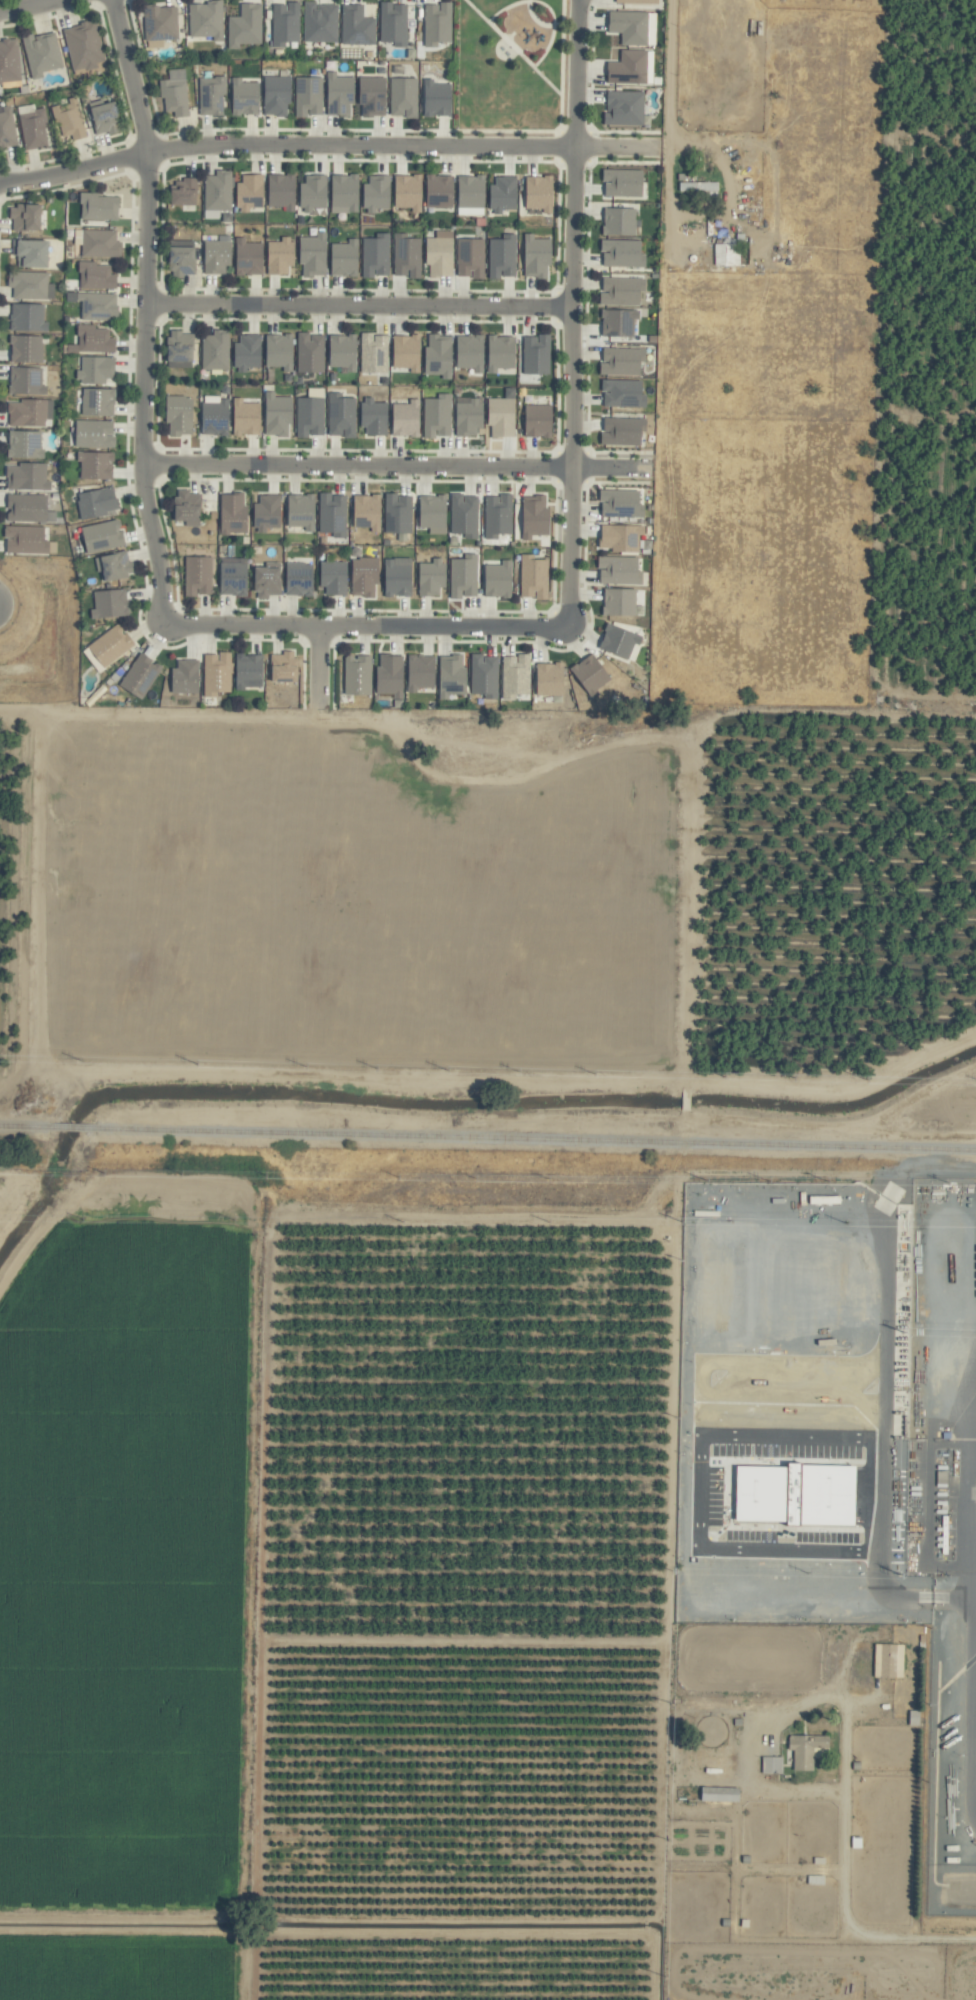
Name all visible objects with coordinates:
building: (638, 1)
road: (30, 6)
building: (206, 20)
building: (320, 22)
building: (161, 23)
building: (394, 23)
building: (285, 24)
building: (437, 24)
building: (245, 26)
building: (357, 26)
building: (630, 27)
building: (84, 45)
building: (42, 54)
building: (9, 62)
building: (628, 68)
building: (174, 94)
building: (278, 95)
building: (340, 95)
building: (212, 96)
building: (374, 96)
building: (246, 97)
building: (309, 97)
building: (404, 97)
building: (438, 99)
road: (667, 101)
building: (625, 108)
building: (106, 118)
building: (69, 121)
building: (32, 127)
building: (7, 128)
road: (327, 148)
building: (624, 183)
building: (218, 191)
building: (283, 191)
building: (441, 191)
building: (185, 192)
building: (250, 192)
building: (409, 192)
building: (314, 193)
building: (345, 193)
building: (541, 193)
building: (377, 194)
building: (504, 194)
building: (472, 195)
building: (100, 207)
building: (27, 218)
building: (620, 221)
building: (101, 244)
building: (32, 253)
building: (623, 253)
building: (440, 254)
building: (314, 255)
building: (726, 255)
building: (218, 256)
building: (281, 256)
building: (376, 256)
building: (407, 256)
building: (502, 256)
building: (537, 256)
building: (250, 258)
building: (345, 258)
building: (471, 258)
building: (183, 259)
building: (97, 276)
building: (31, 286)
building: (623, 291)
building: (99, 306)
road: (360, 307)
road: (147, 311)
road: (572, 313)
building: (28, 318)
building: (619, 322)
building: (95, 340)
building: (180, 346)
building: (27, 349)
building: (216, 351)
building: (280, 351)
building: (248, 352)
building: (344, 352)
building: (408, 352)
building: (471, 352)
building: (311, 353)
building: (374, 353)
building: (501, 353)
building: (439, 355)
building: (536, 355)
building: (622, 362)
building: (96, 371)
building: (27, 381)
building: (624, 393)
building: (98, 402)
building: (27, 413)
building: (279, 414)
building: (180, 416)
building: (216, 416)
building: (342, 416)
building: (438, 416)
building: (469, 416)
building: (310, 417)
building: (375, 417)
building: (247, 418)
building: (502, 418)
building: (407, 419)
building: (539, 421)
building: (624, 431)
building: (95, 434)
building: (25, 445)
building: (96, 466)
road: (397, 467)
building: (28, 477)
building: (96, 503)
building: (621, 503)
building: (189, 508)
building: (29, 509)
building: (302, 512)
building: (368, 512)
building: (268, 513)
building: (234, 514)
building: (398, 514)
building: (433, 514)
building: (333, 515)
building: (464, 516)
building: (498, 516)
building: (536, 517)
building: (103, 536)
building: (621, 538)
building: (28, 541)
building: (114, 566)
building: (621, 571)
building: (198, 576)
building: (365, 576)
building: (234, 577)
building: (335, 577)
building: (464, 577)
building: (534, 577)
building: (432, 578)
building: (301, 579)
building: (398, 579)
building: (269, 580)
building: (499, 580)
building: (621, 603)
building: (110, 604)
road: (366, 627)
building: (619, 641)
building: (112, 645)
building: (93, 660)
building: (285, 667)
road: (321, 667)
building: (250, 671)
building: (422, 672)
building: (217, 674)
building: (358, 675)
building: (591, 675)
building: (140, 676)
building: (391, 676)
building: (453, 676)
building: (485, 676)
building: (186, 677)
building: (515, 677)
building: (551, 679)
crop: (845, 1102)
railway: (23, 1126)
railway: (71, 1127)
railway: (535, 1137)
crop: (510, 1305)
power substation: (944, 1517)
building: (888, 1660)
building: (808, 1750)
building: (771, 1765)
building: (721, 1794)

